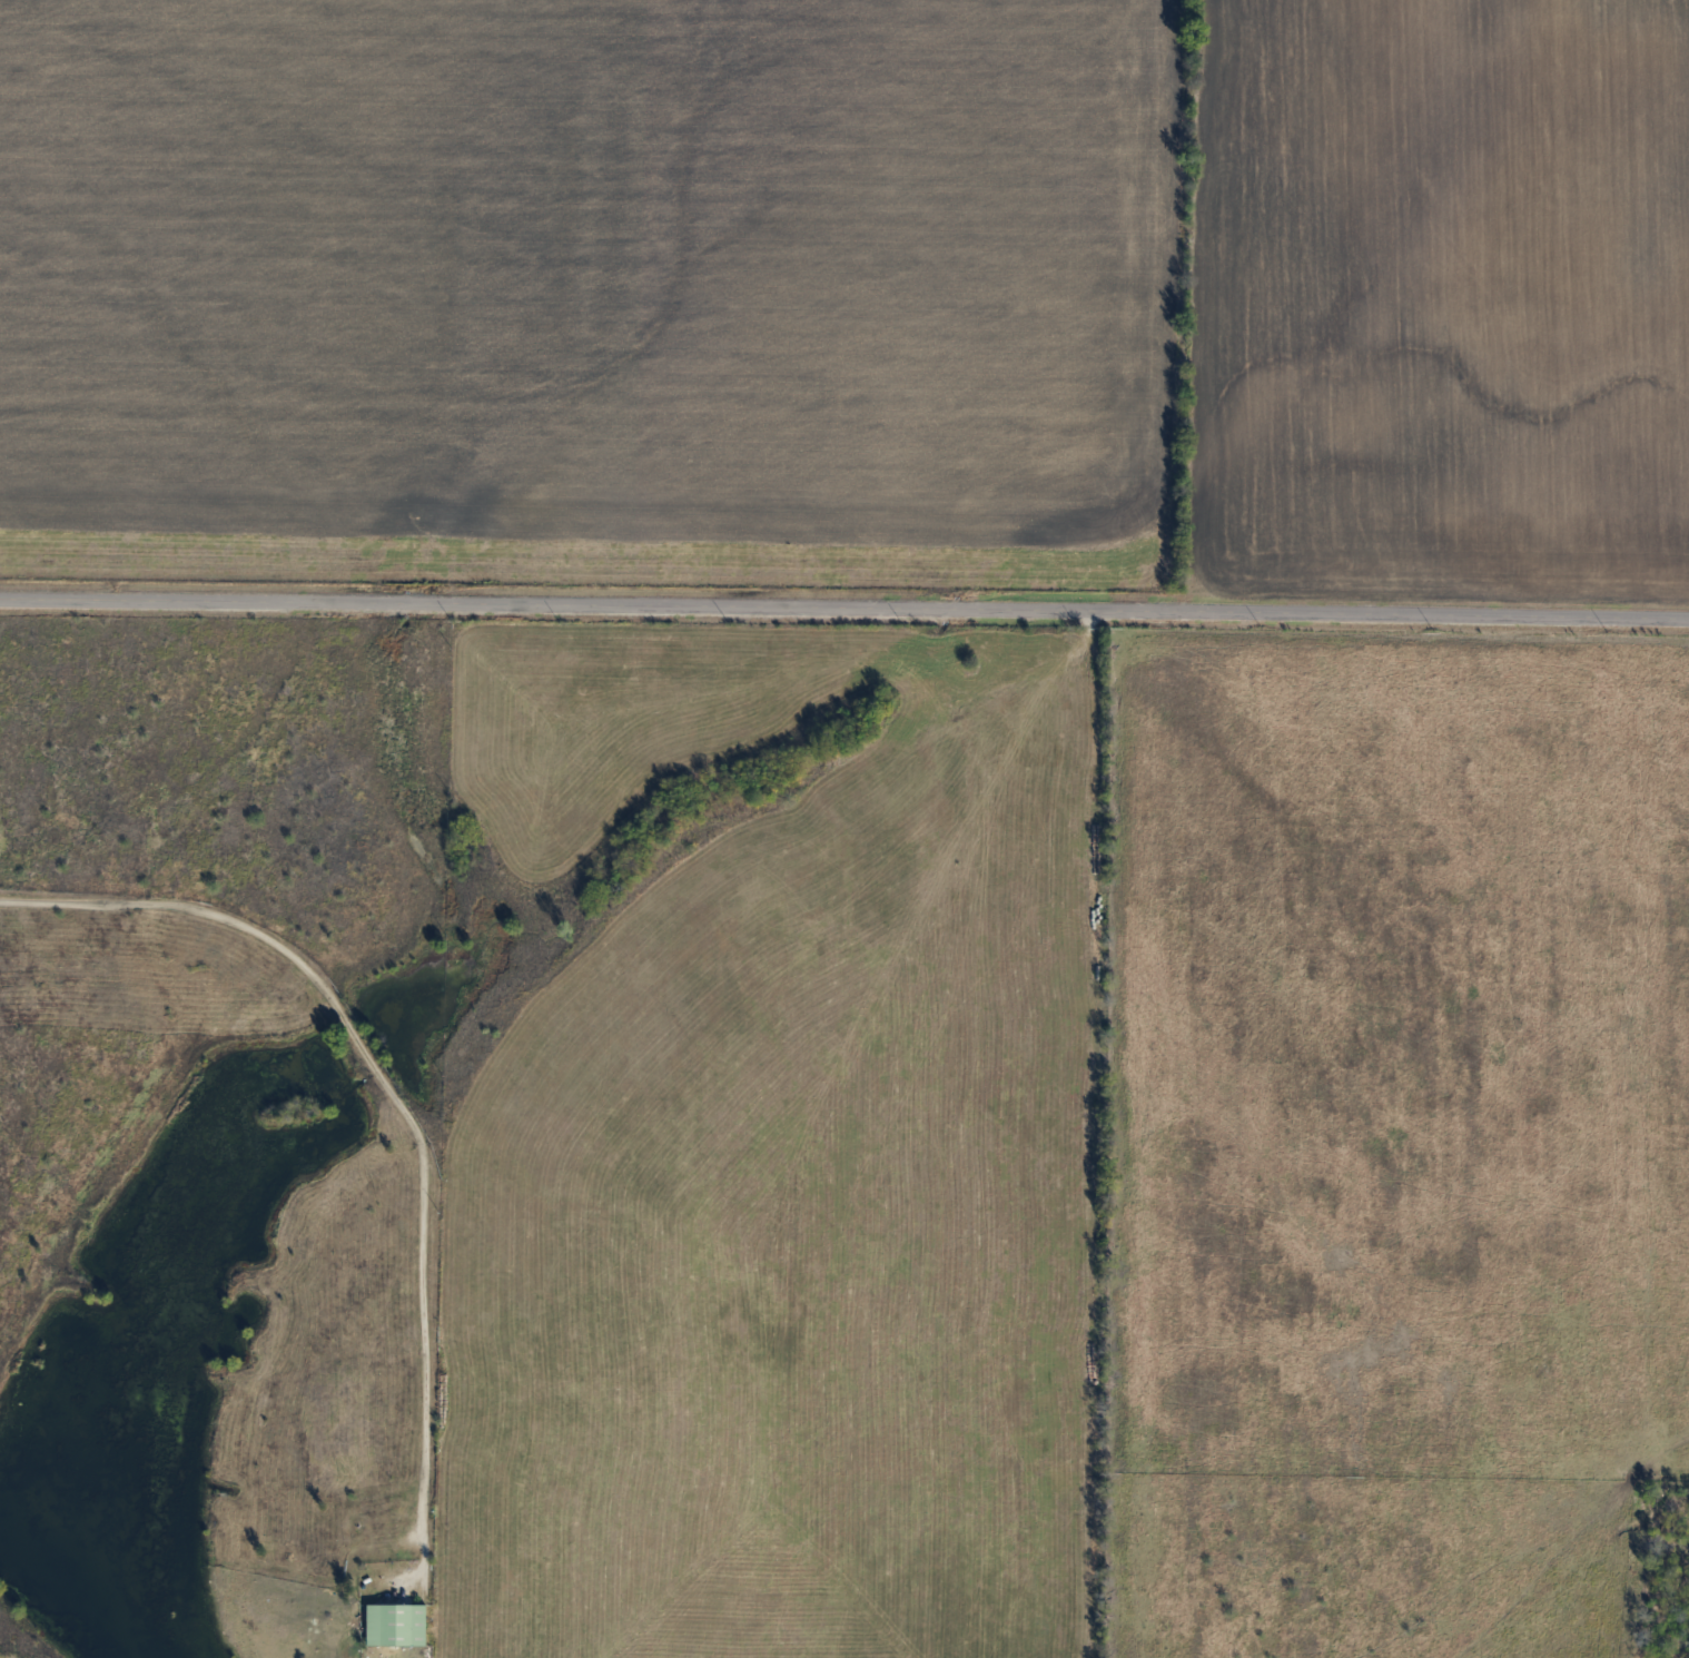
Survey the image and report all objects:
road: (843, 615)
road: (391, 1092)
building: (393, 1625)

